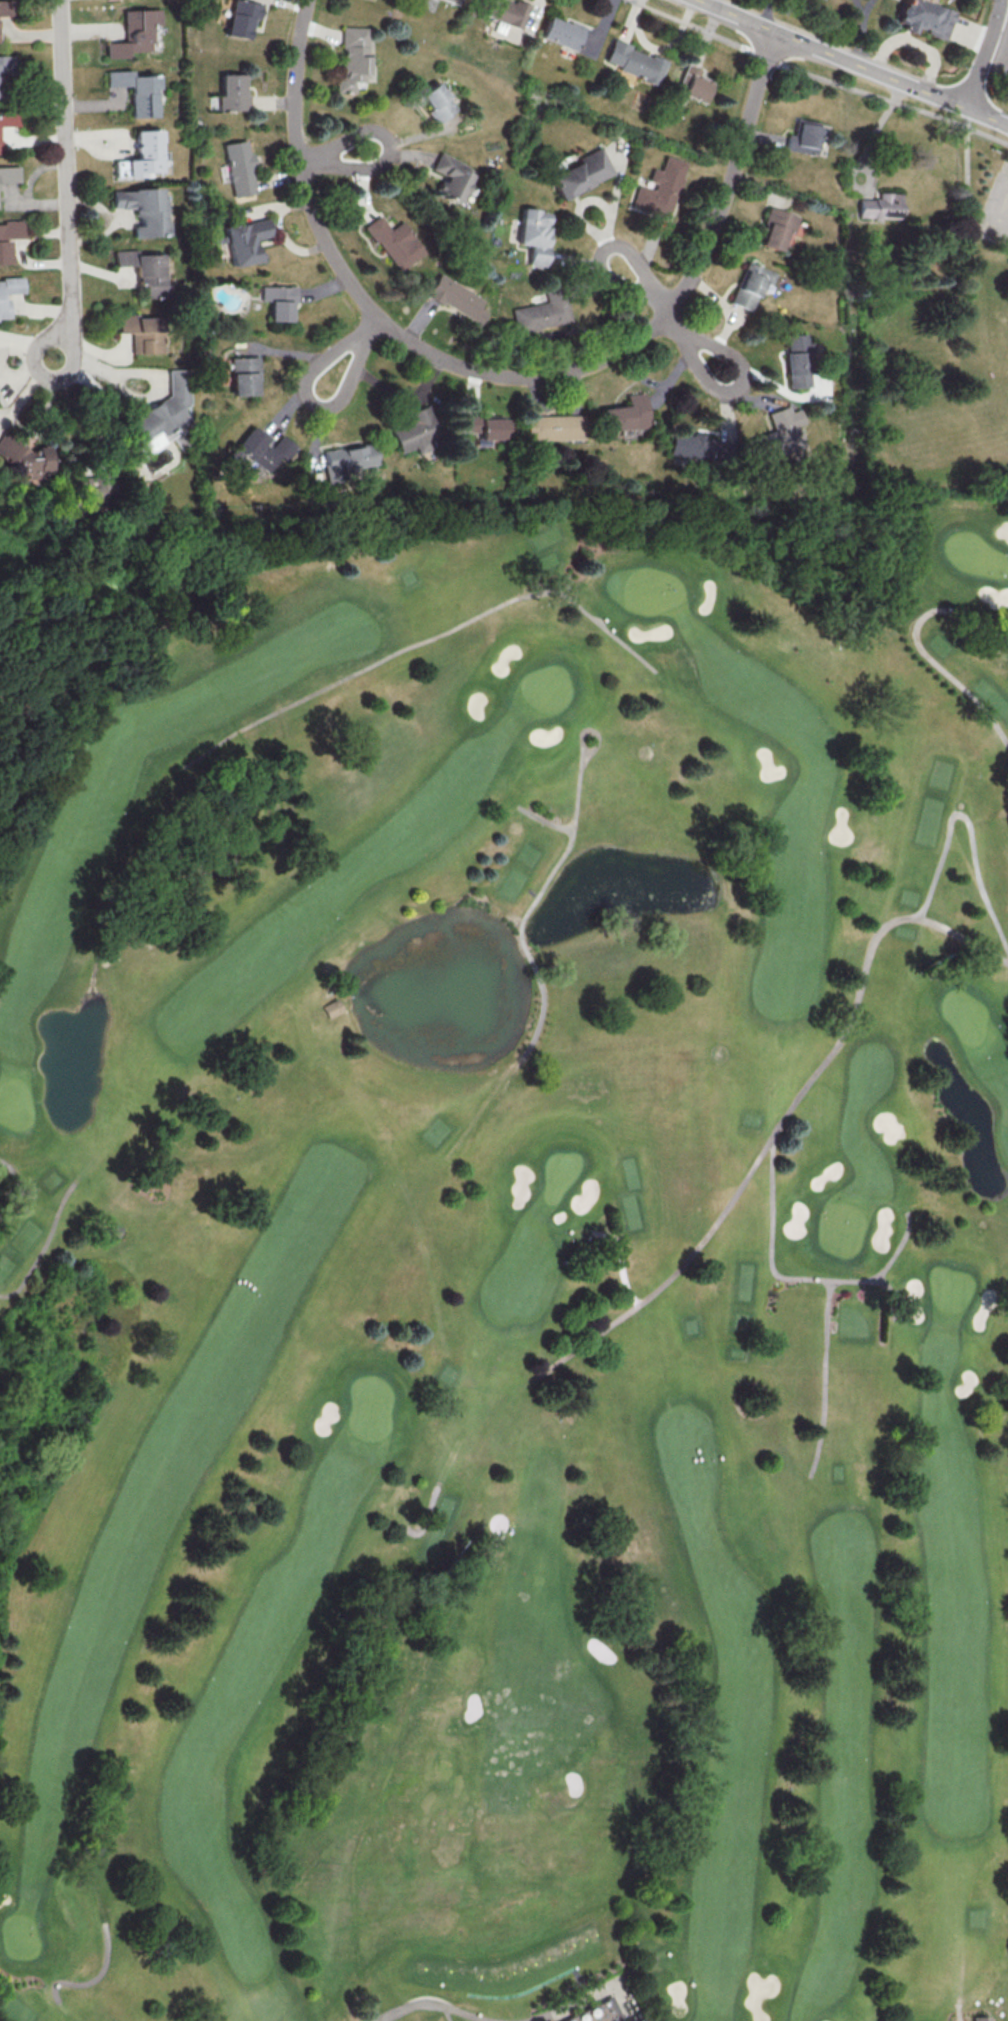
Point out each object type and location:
building: (822, 1)
road: (864, 6)
road: (871, 6)
building: (5, 8)
building: (506, 11)
road: (767, 14)
building: (241, 18)
building: (928, 18)
building: (134, 32)
building: (561, 32)
road: (974, 32)
road: (868, 42)
road: (920, 43)
road: (1000, 43)
road: (985, 54)
building: (352, 57)
building: (634, 62)
road: (848, 62)
building: (6, 63)
building: (693, 84)
building: (137, 90)
building: (232, 92)
building: (436, 102)
building: (7, 122)
road: (1005, 125)
road: (877, 130)
building: (802, 136)
road: (394, 151)
building: (143, 155)
building: (239, 167)
building: (581, 173)
building: (9, 174)
building: (451, 177)
road: (65, 180)
building: (660, 187)
building: (880, 205)
road: (992, 208)
building: (142, 209)
building: (776, 227)
building: (532, 233)
building: (11, 236)
building: (244, 240)
building: (394, 242)
building: (145, 270)
building: (750, 284)
building: (8, 292)
building: (456, 298)
building: (279, 301)
building: (540, 314)
road: (668, 314)
building: (141, 332)
building: (796, 360)
road: (506, 371)
building: (244, 375)
road: (307, 389)
road: (105, 399)
building: (160, 413)
building: (625, 413)
building: (485, 426)
building: (555, 427)
building: (417, 434)
building: (776, 436)
building: (692, 446)
building: (264, 449)
building: (347, 459)
building: (25, 461)
building: (95, 485)
road: (424, 640)
road: (923, 651)
road: (544, 819)
road: (968, 827)
road: (549, 875)
building: (331, 1007)
road: (779, 1121)
road: (17, 1195)
road: (46, 1247)
road: (620, 1262)
park: (506, 1268)
road: (793, 1279)
road: (890, 1296)
road: (823, 1379)
road: (456, 1448)
road: (634, 1970)
road: (95, 1977)
road: (588, 1993)
road: (443, 2004)
road: (959, 2012)
road: (448, 2013)
building: (981, 2017)
building: (549, 2020)
building: (555, 2020)

